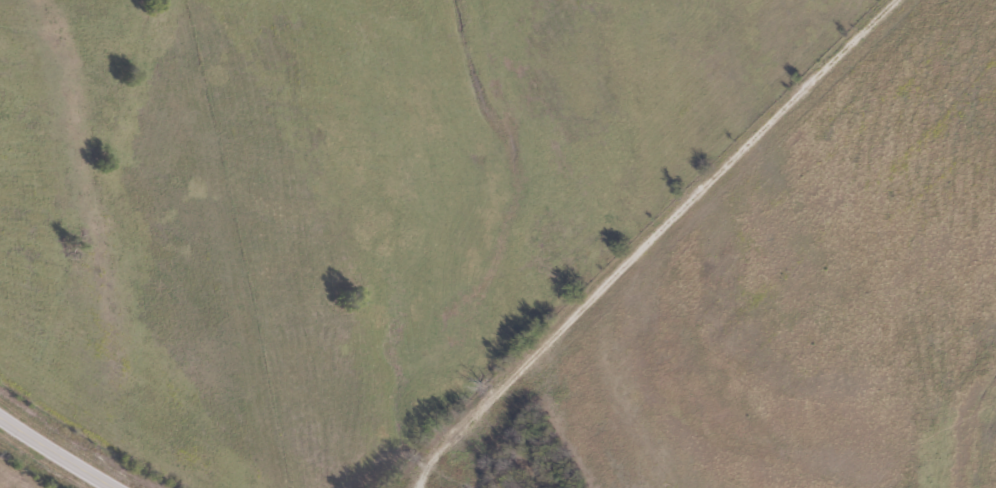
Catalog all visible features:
road: (660, 243)
road: (55, 454)

